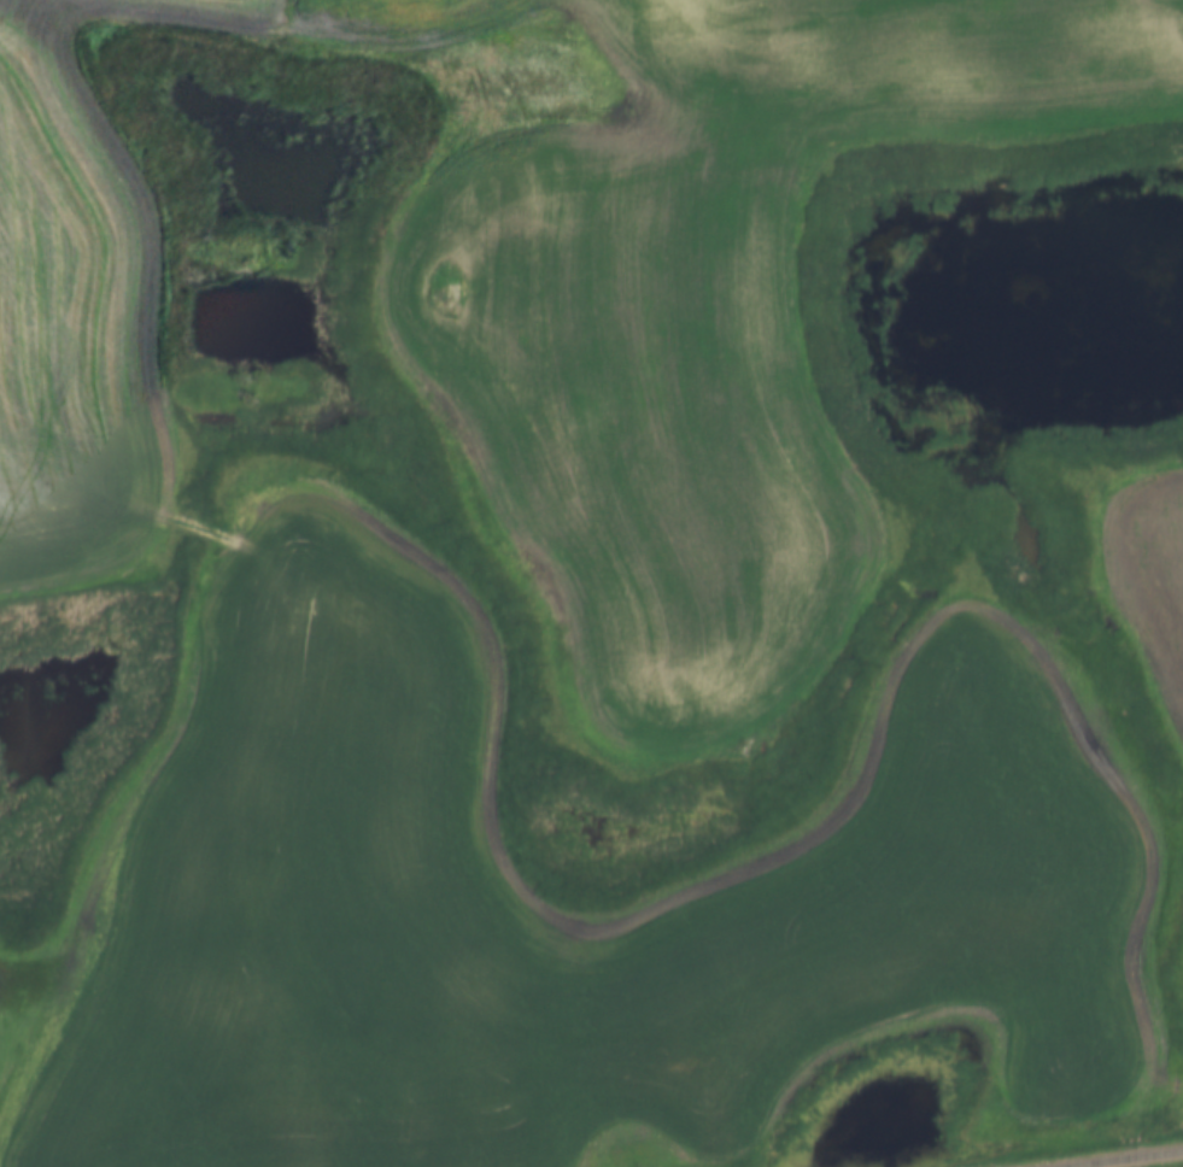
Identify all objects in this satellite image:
railway: (1125, 1159)

